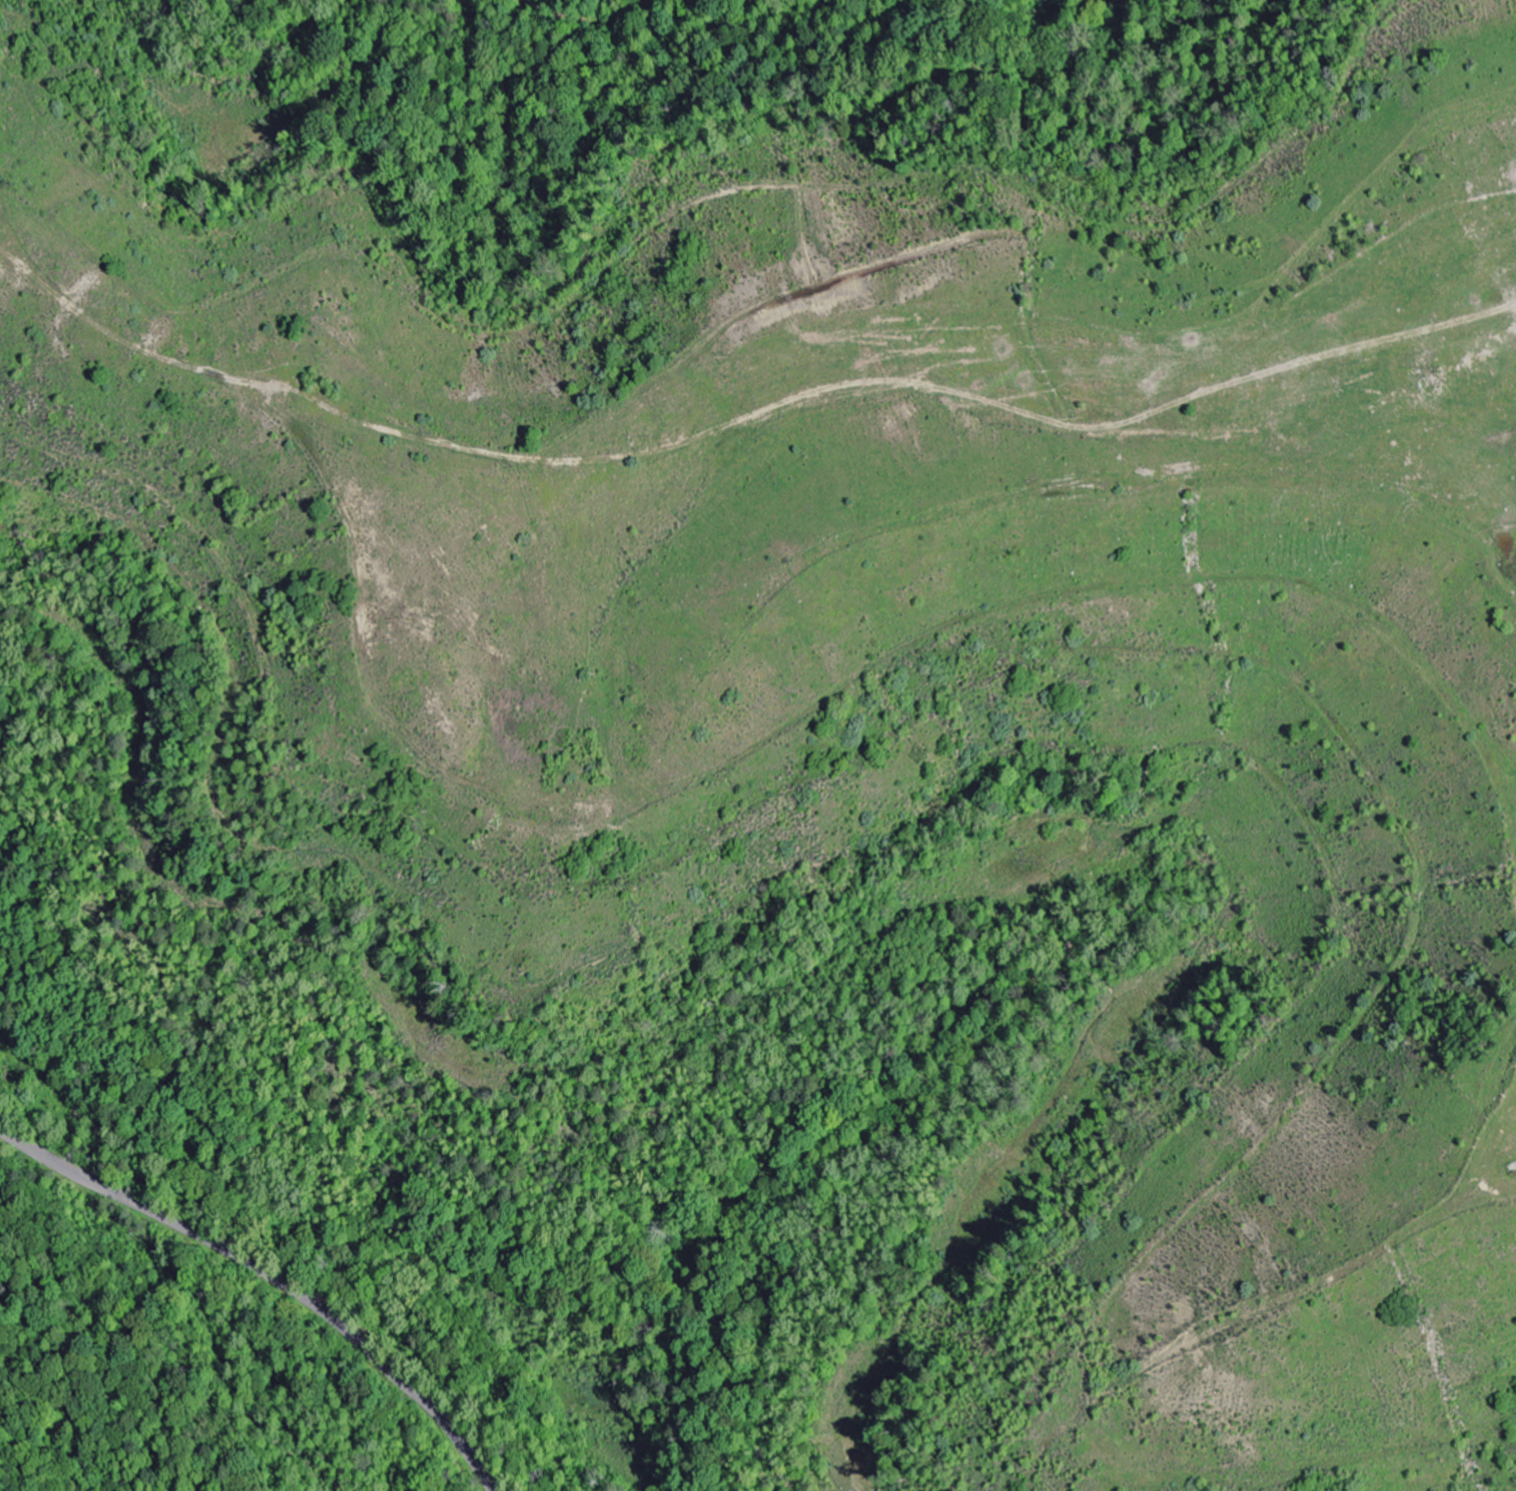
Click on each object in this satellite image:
road: (275, 1275)

